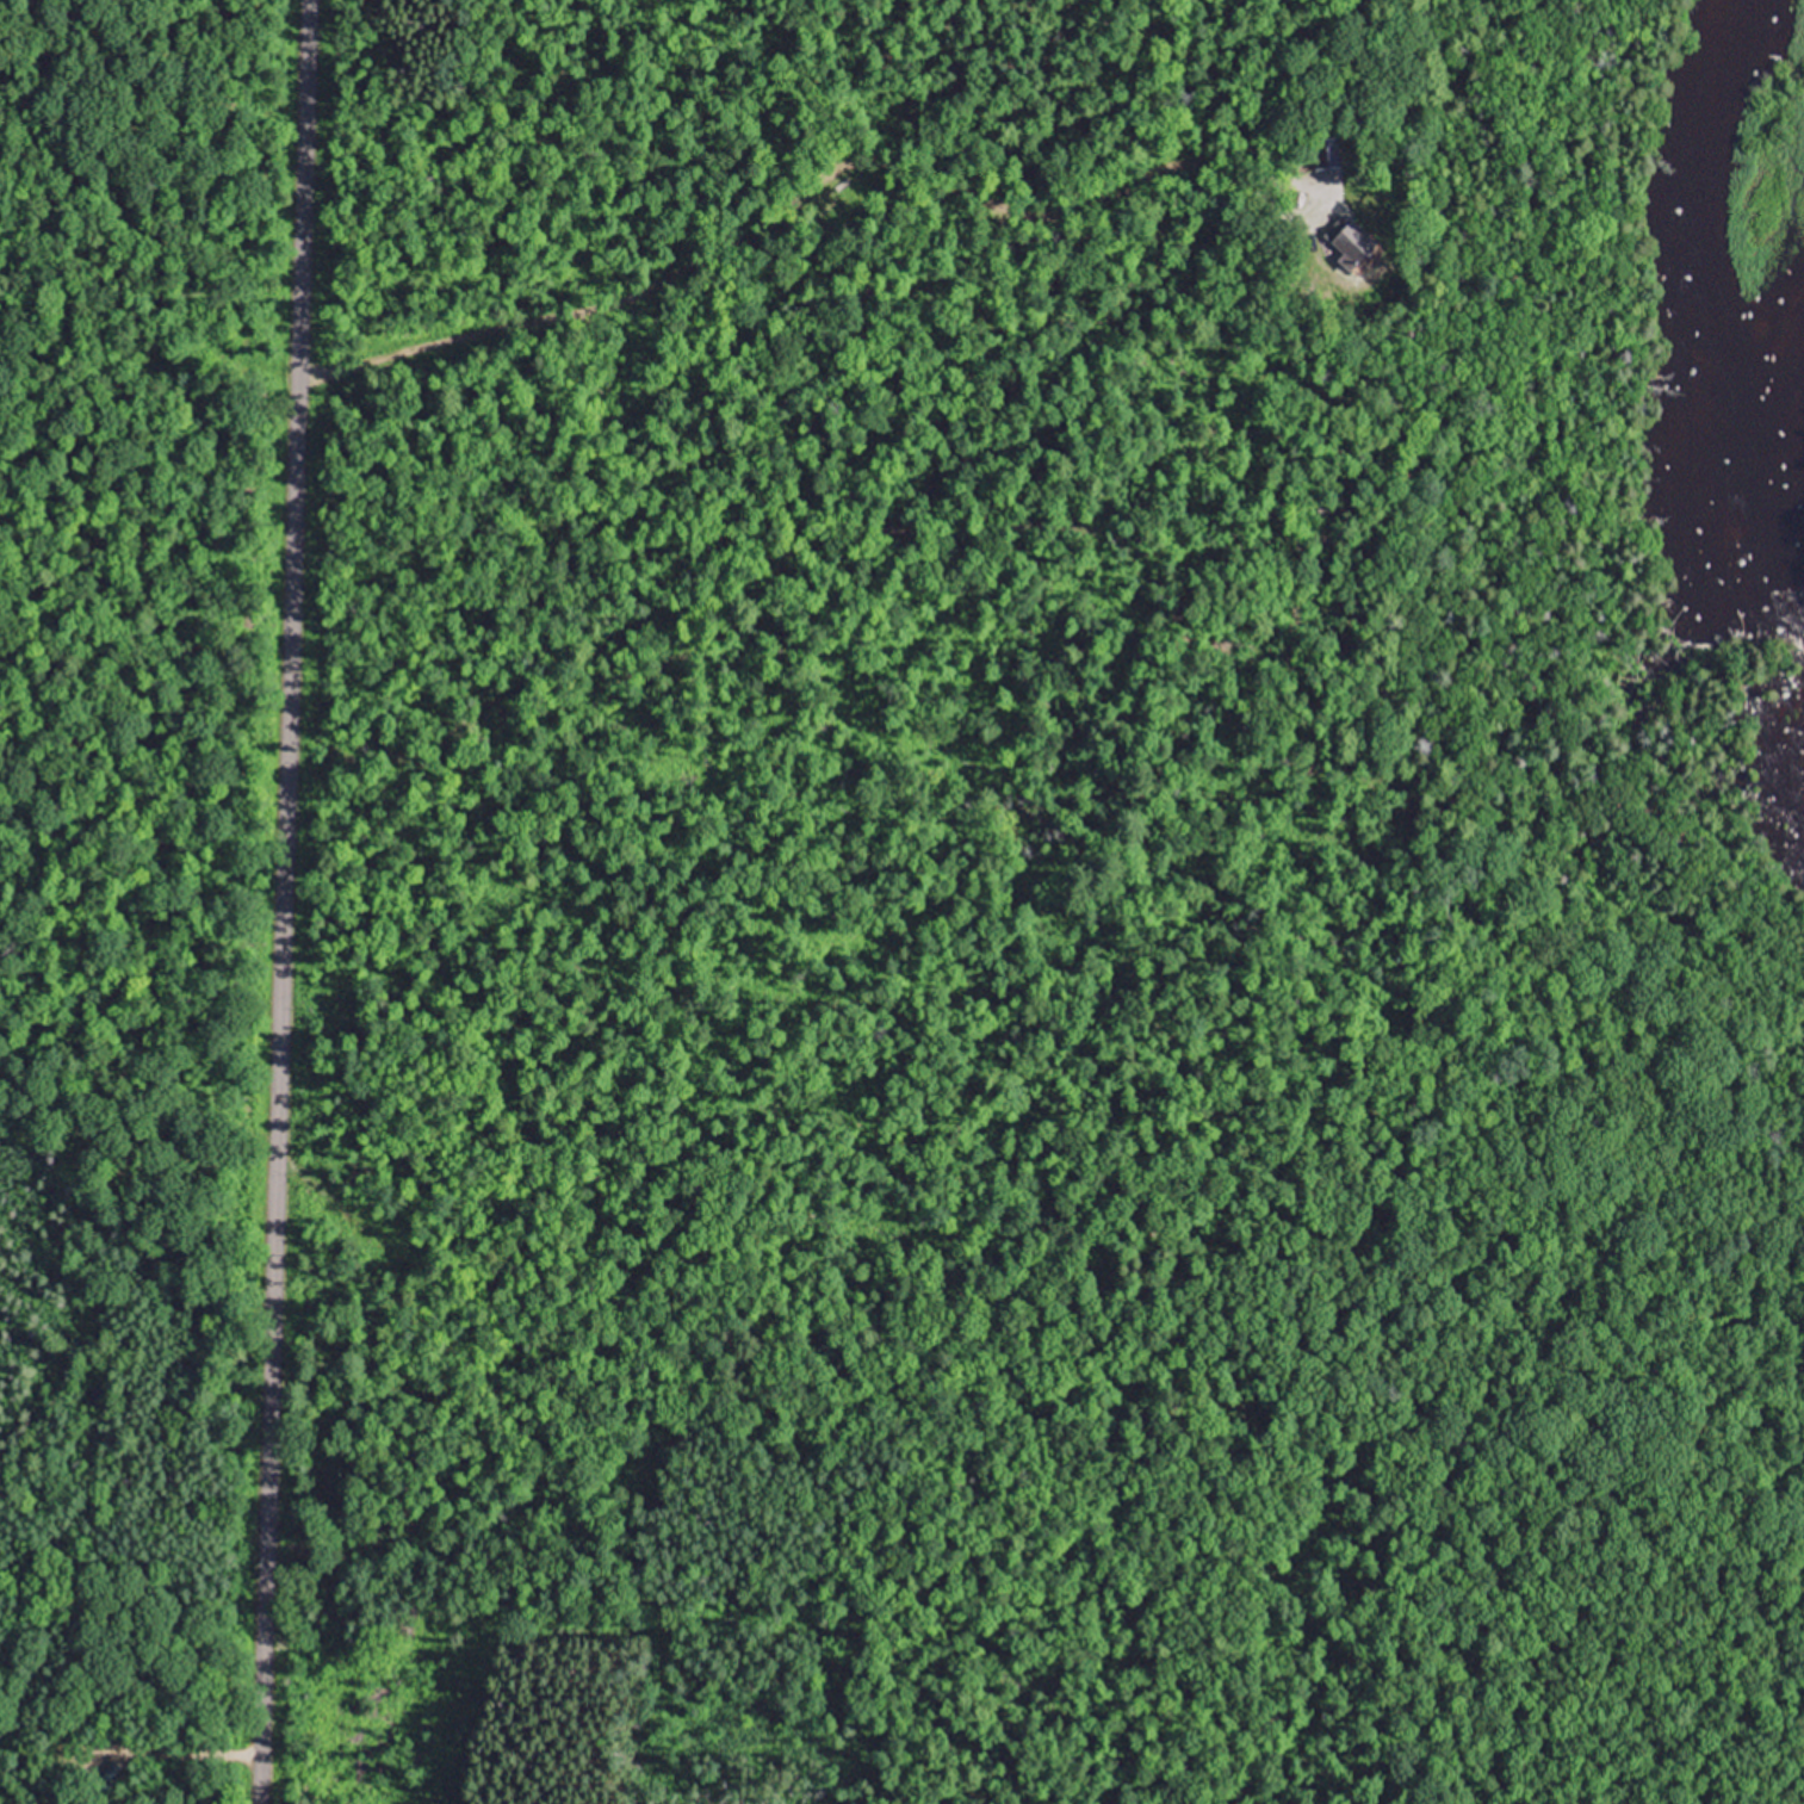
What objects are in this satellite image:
river: (1705, 308)
road: (281, 901)

